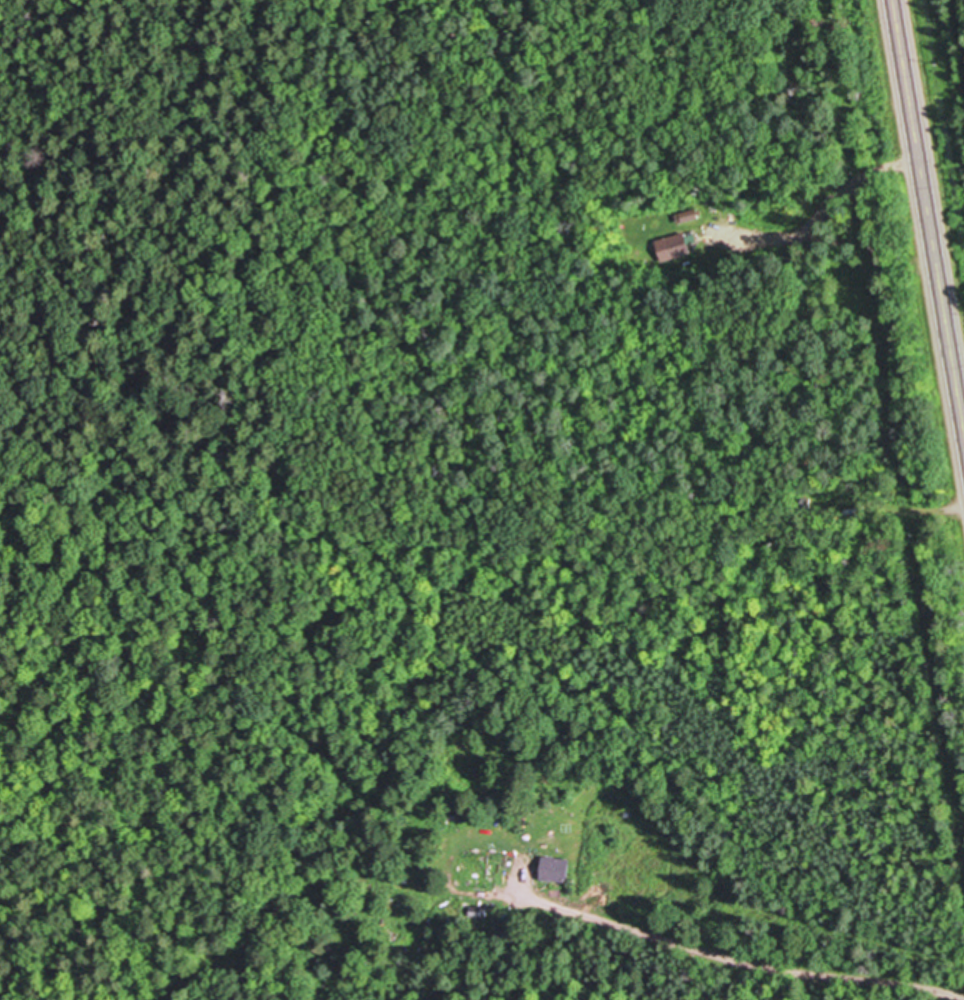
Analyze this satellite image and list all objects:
road: (929, 209)
building: (555, 872)
building: (504, 920)
road: (722, 956)

